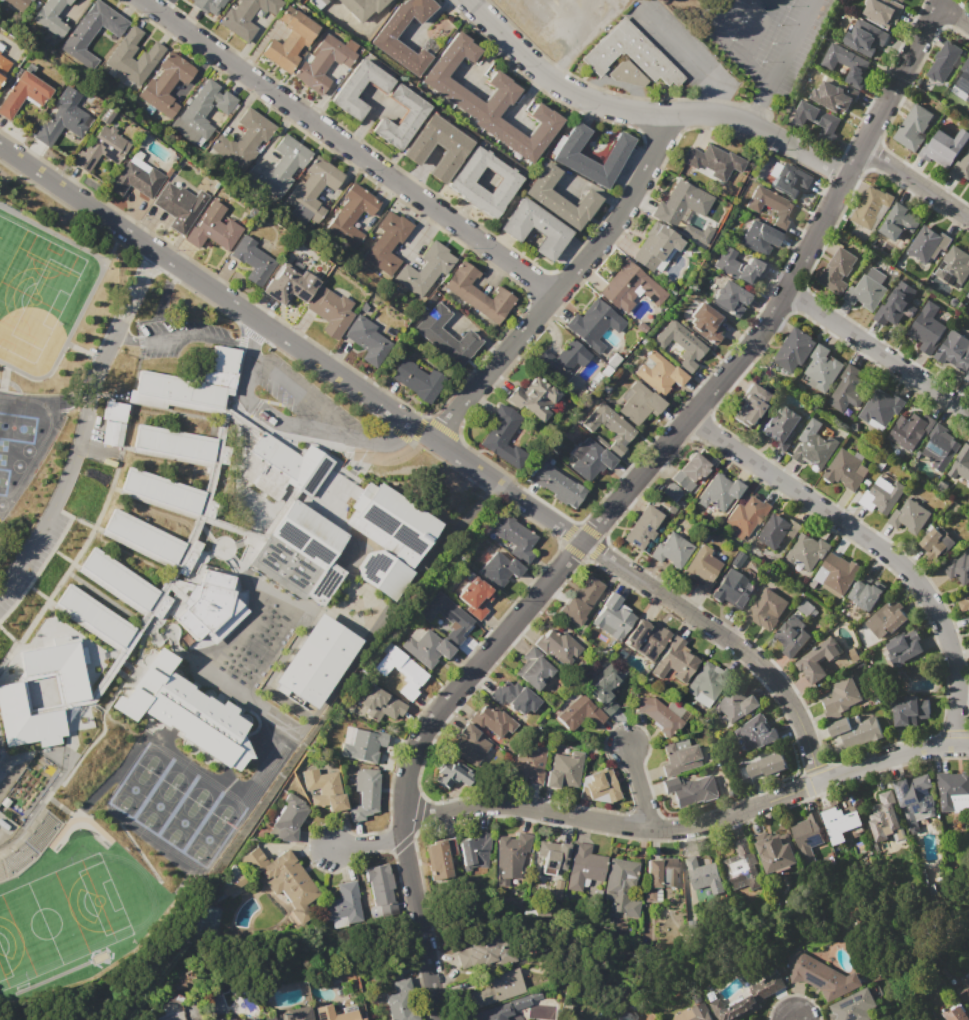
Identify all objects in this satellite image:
building: (300, 0)
building: (317, 1)
building: (900, 1)
building: (19, 4)
building: (207, 6)
building: (361, 8)
building: (881, 12)
road: (953, 14)
road: (719, 15)
building: (52, 17)
building: (245, 17)
road: (757, 30)
building: (92, 31)
parking lot: (766, 37)
building: (865, 37)
building: (383, 40)
building: (290, 42)
road: (791, 43)
road: (681, 49)
building: (630, 53)
building: (149, 55)
road: (740, 58)
building: (322, 62)
building: (847, 63)
building: (947, 64)
building: (4, 65)
building: (626, 73)
building: (166, 83)
building: (962, 83)
building: (348, 87)
building: (23, 93)
building: (832, 96)
building: (490, 100)
road: (758, 106)
road: (715, 107)
building: (202, 111)
road: (643, 113)
building: (400, 118)
building: (815, 119)
building: (62, 122)
building: (916, 127)
building: (244, 139)
building: (452, 145)
building: (943, 147)
road: (347, 148)
building: (101, 149)
building: (567, 155)
building: (711, 161)
building: (280, 166)
building: (961, 170)
building: (135, 177)
building: (788, 179)
building: (461, 184)
road: (915, 184)
building: (312, 191)
building: (559, 199)
building: (683, 203)
building: (770, 205)
building: (178, 206)
building: (870, 206)
building: (351, 215)
building: (898, 222)
building: (213, 228)
building: (535, 228)
building: (702, 238)
building: (760, 238)
building: (388, 242)
building: (928, 245)
building: (654, 247)
building: (251, 260)
building: (736, 266)
building: (954, 267)
building: (425, 269)
building: (838, 270)
road: (564, 283)
building: (289, 285)
building: (629, 288)
building: (868, 290)
park: (30, 292)
building: (477, 293)
building: (968, 295)
building: (730, 298)
building: (968, 307)
building: (894, 308)
building: (330, 311)
building: (593, 324)
building: (708, 324)
road: (658, 326)
building: (927, 328)
road: (253, 331)
road: (192, 333)
road: (124, 335)
building: (446, 336)
building: (367, 340)
building: (680, 342)
building: (794, 350)
building: (955, 350)
road: (877, 352)
building: (562, 358)
building: (821, 368)
building: (659, 374)
building: (968, 376)
building: (417, 380)
building: (192, 383)
road: (302, 387)
building: (850, 387)
building: (533, 398)
building: (639, 405)
building: (750, 405)
building: (881, 407)
road: (291, 421)
building: (781, 426)
road: (83, 427)
building: (609, 429)
building: (910, 430)
road: (401, 433)
building: (501, 435)
road: (436, 442)
building: (941, 445)
building: (814, 446)
building: (181, 447)
building: (590, 458)
road: (651, 460)
building: (961, 463)
building: (283, 467)
building: (847, 469)
building: (689, 471)
building: (559, 485)
building: (670, 492)
building: (718, 494)
building: (169, 495)
building: (882, 495)
building: (748, 514)
building: (909, 516)
building: (256, 520)
building: (390, 523)
building: (642, 527)
building: (773, 531)
building: (306, 534)
building: (514, 537)
building: (152, 542)
building: (937, 542)
road: (876, 545)
building: (671, 550)
building: (806, 552)
building: (737, 559)
building: (701, 568)
building: (958, 568)
building: (498, 569)
building: (383, 573)
building: (840, 573)
building: (323, 583)
building: (124, 584)
building: (733, 589)
building: (867, 593)
building: (475, 596)
building: (580, 600)
building: (206, 603)
building: (964, 603)
building: (766, 609)
building: (807, 609)
building: (447, 617)
building: (889, 617)
building: (612, 618)
building: (101, 622)
building: (792, 636)
building: (645, 639)
building: (425, 647)
building: (903, 647)
building: (556, 648)
building: (675, 660)
building: (817, 660)
building: (317, 661)
building: (60, 665)
building: (532, 669)
building: (401, 671)
building: (707, 680)
building: (606, 689)
building: (513, 697)
building: (840, 698)
building: (380, 703)
building: (737, 704)
building: (910, 710)
building: (183, 711)
building: (580, 713)
building: (662, 714)
building: (26, 720)
building: (492, 721)
building: (856, 730)
building: (757, 733)
building: (359, 744)
building: (470, 744)
building: (680, 756)
road: (4, 761)
building: (528, 763)
building: (765, 766)
building: (564, 770)
building: (43, 771)
building: (451, 777)
building: (33, 784)
building: (600, 785)
road: (638, 788)
building: (324, 789)
building: (691, 789)
building: (953, 790)
building: (365, 793)
building: (914, 797)
building: (23, 798)
building: (13, 811)
building: (290, 817)
building: (886, 817)
building: (843, 820)
road: (5, 822)
road: (690, 827)
building: (808, 835)
road: (367, 843)
building: (474, 851)
building: (776, 852)
building: (552, 855)
building: (510, 856)
building: (440, 858)
building: (742, 865)
building: (585, 866)
building: (663, 872)
building: (703, 873)
building: (283, 879)
building: (228, 881)
building: (622, 887)
building: (381, 891)
building: (343, 905)
road: (420, 931)
building: (482, 953)
building: (820, 975)
road: (430, 983)
building: (496, 988)
building: (965, 991)
building: (749, 999)
building: (402, 1006)
building: (853, 1006)
building: (164, 1012)
building: (700, 1012)
building: (297, 1013)
building: (494, 1013)
building: (956, 1013)
building: (335, 1014)
building: (626, 1014)
building: (252, 1018)

